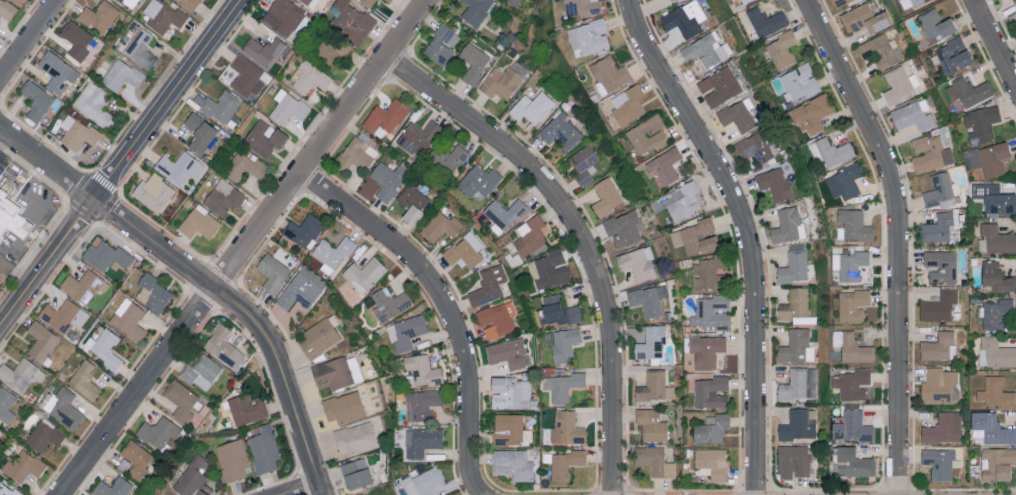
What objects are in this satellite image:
building: (671, 0)
building: (1015, 0)
building: (19, 1)
building: (388, 1)
building: (746, 1)
building: (129, 2)
building: (310, 2)
building: (368, 2)
building: (840, 2)
building: (190, 3)
building: (910, 3)
building: (581, 7)
building: (6, 9)
building: (476, 11)
building: (99, 15)
building: (162, 15)
building: (283, 17)
building: (864, 18)
building: (684, 19)
building: (351, 20)
building: (767, 21)
building: (936, 26)
building: (588, 37)
building: (76, 38)
road: (31, 42)
road: (994, 42)
building: (441, 45)
building: (140, 48)
building: (264, 50)
building: (707, 50)
building: (782, 50)
building: (881, 50)
building: (954, 56)
building: (474, 62)
building: (57, 71)
building: (609, 72)
building: (121, 74)
building: (247, 76)
building: (309, 77)
building: (504, 79)
building: (799, 83)
building: (900, 83)
building: (719, 86)
building: (967, 93)
building: (36, 99)
road: (168, 99)
building: (93, 103)
building: (627, 103)
building: (221, 105)
building: (287, 106)
building: (532, 106)
building: (738, 114)
building: (813, 114)
building: (913, 115)
building: (384, 117)
building: (981, 124)
building: (199, 131)
building: (560, 131)
building: (77, 132)
building: (418, 134)
building: (647, 134)
building: (264, 138)
road: (4, 140)
building: (755, 146)
building: (831, 150)
building: (357, 153)
building: (930, 153)
building: (447, 157)
building: (990, 159)
building: (583, 162)
building: (664, 164)
parking lot: (1, 165)
building: (244, 165)
building: (178, 166)
building: (387, 178)
building: (478, 180)
building: (844, 181)
building: (775, 182)
building: (940, 190)
building: (153, 191)
building: (606, 195)
building: (223, 196)
building: (995, 197)
road: (31, 198)
building: (413, 202)
building: (505, 212)
building: (14, 221)
building: (198, 222)
building: (788, 224)
building: (853, 225)
building: (440, 226)
building: (624, 227)
building: (937, 227)
building: (303, 229)
road: (750, 232)
building: (530, 235)
road: (580, 235)
building: (696, 236)
road: (897, 237)
building: (995, 239)
road: (243, 246)
building: (464, 250)
building: (332, 253)
building: (106, 255)
building: (638, 262)
road: (47, 263)
building: (850, 263)
building: (794, 264)
building: (941, 265)
road: (0, 268)
building: (551, 269)
building: (272, 271)
building: (709, 271)
building: (364, 273)
building: (996, 276)
parking lot: (0, 278)
road: (14, 278)
road: (203, 280)
building: (83, 285)
building: (488, 285)
building: (301, 289)
building: (152, 292)
building: (648, 299)
road: (445, 301)
building: (853, 304)
building: (939, 305)
building: (795, 306)
building: (557, 310)
building: (712, 312)
building: (995, 312)
building: (58, 314)
building: (80, 317)
building: (127, 318)
building: (497, 318)
building: (406, 331)
building: (318, 337)
building: (41, 340)
building: (651, 342)
building: (562, 343)
building: (223, 346)
building: (796, 346)
building: (852, 346)
building: (938, 346)
building: (104, 347)
building: (706, 349)
building: (507, 352)
building: (996, 353)
building: (422, 369)
building: (201, 371)
building: (334, 372)
building: (20, 373)
building: (84, 379)
building: (812, 382)
building: (794, 384)
building: (853, 384)
building: (563, 385)
building: (939, 385)
building: (655, 386)
building: (711, 391)
building: (510, 392)
building: (997, 392)
building: (183, 401)
building: (421, 403)
building: (5, 404)
building: (64, 407)
building: (344, 407)
building: (247, 408)
building: (375, 423)
building: (651, 424)
building: (799, 424)
building: (852, 427)
building: (508, 428)
building: (567, 428)
building: (711, 428)
building: (943, 428)
building: (990, 428)
building: (158, 431)
building: (45, 434)
building: (355, 438)
building: (422, 440)
building: (263, 448)
building: (137, 458)
building: (232, 458)
building: (654, 460)
building: (712, 461)
building: (793, 461)
building: (854, 462)
building: (939, 462)
building: (566, 463)
building: (997, 463)
building: (125, 464)
building: (513, 464)
building: (23, 466)
building: (356, 473)
building: (192, 477)
building: (424, 481)
building: (113, 487)
building: (8, 490)
road: (308, 490)
building: (87, 494)

